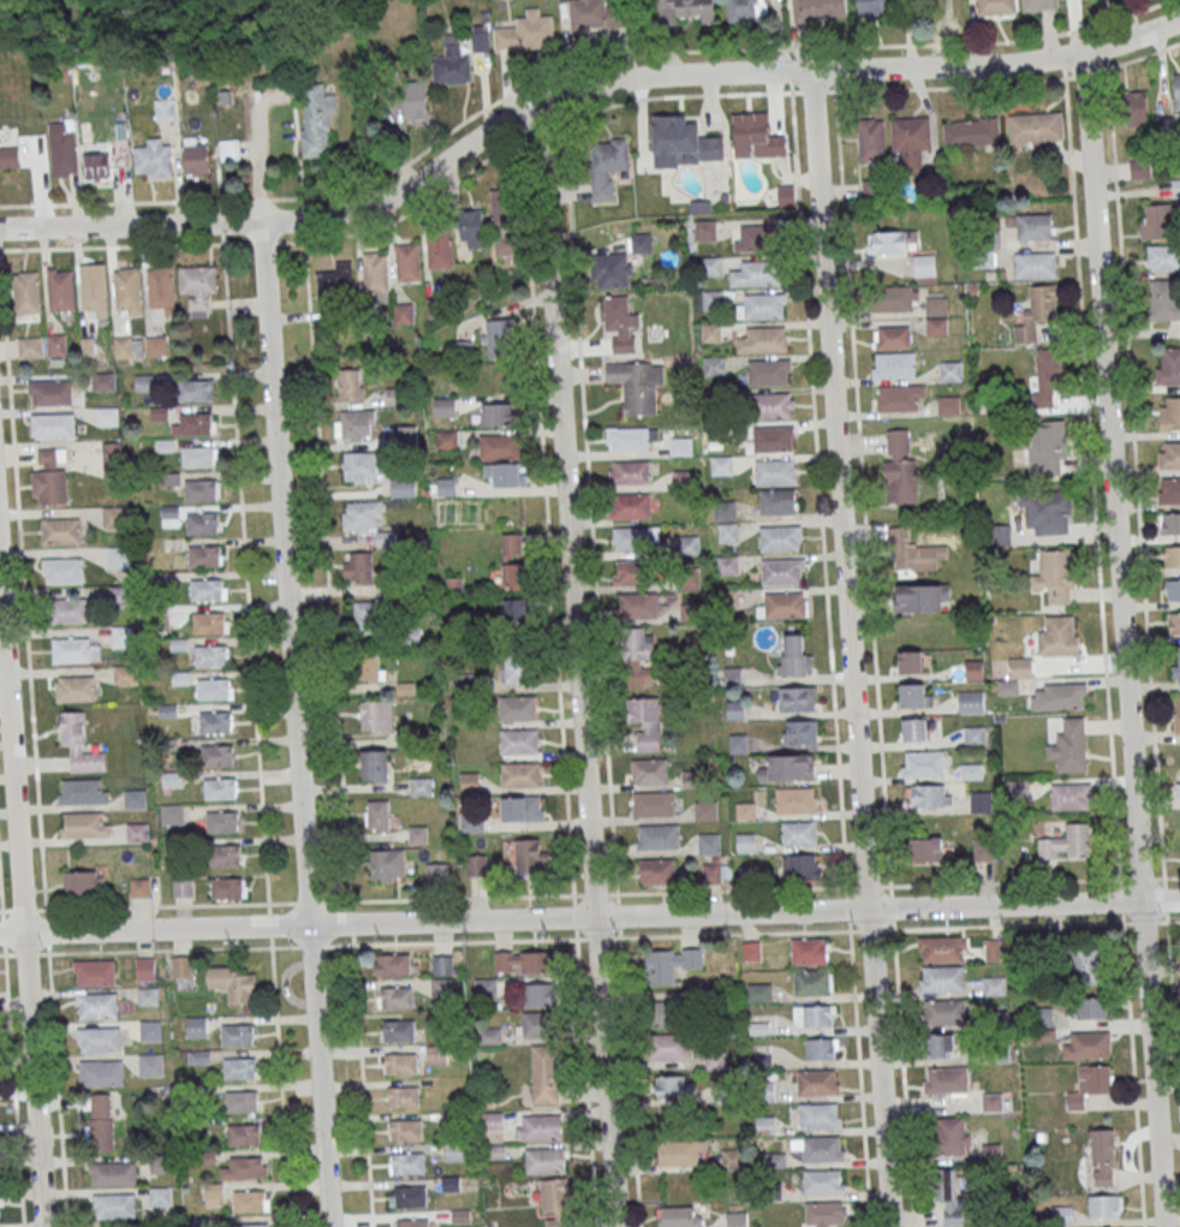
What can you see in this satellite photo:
park: (260, 4)
building: (1038, 6)
building: (874, 7)
building: (996, 7)
building: (684, 10)
building: (820, 10)
building: (747, 11)
building: (597, 14)
park: (332, 20)
building: (526, 31)
building: (481, 38)
park: (124, 43)
road: (679, 49)
building: (452, 62)
road: (949, 87)
road: (577, 91)
building: (1176, 91)
road: (636, 99)
building: (416, 102)
building: (1134, 108)
building: (166, 109)
building: (316, 119)
building: (1036, 129)
building: (971, 133)
building: (757, 139)
building: (871, 141)
building: (681, 142)
building: (910, 143)
building: (64, 147)
building: (230, 150)
building: (196, 156)
building: (154, 157)
building: (10, 159)
road: (300, 163)
building: (96, 166)
building: (607, 166)
building: (1140, 168)
building: (1175, 186)
building: (870, 189)
building: (503, 207)
road: (405, 214)
building: (1156, 220)
building: (1035, 226)
building: (472, 228)
building: (704, 230)
building: (757, 237)
building: (640, 242)
building: (889, 242)
building: (505, 245)
building: (440, 250)
building: (1163, 257)
building: (407, 261)
building: (711, 264)
building: (1035, 264)
building: (924, 266)
building: (612, 270)
building: (375, 272)
building: (757, 273)
building: (336, 280)
building: (197, 285)
building: (161, 288)
building: (60, 290)
building: (94, 290)
building: (127, 290)
building: (26, 292)
building: (713, 298)
building: (898, 298)
building: (1163, 299)
building: (764, 305)
building: (935, 305)
building: (436, 306)
building: (1037, 312)
building: (404, 314)
building: (620, 323)
building: (936, 326)
building: (710, 333)
road: (5, 334)
building: (890, 336)
building: (501, 338)
building: (763, 340)
building: (56, 344)
building: (157, 345)
building: (30, 346)
building: (124, 346)
building: (894, 364)
building: (714, 365)
building: (1169, 365)
building: (950, 370)
building: (769, 371)
building: (1044, 377)
building: (103, 381)
building: (145, 382)
building: (350, 383)
building: (637, 385)
building: (196, 389)
building: (50, 392)
building: (900, 398)
building: (947, 404)
building: (771, 405)
building: (445, 406)
building: (497, 413)
building: (1169, 413)
building: (106, 415)
building: (196, 423)
building: (53, 424)
building: (354, 425)
building: (719, 430)
building: (405, 435)
building: (630, 437)
building: (446, 439)
building: (774, 439)
building: (499, 446)
building: (681, 446)
building: (1043, 449)
building: (1169, 454)
building: (197, 455)
road: (1134, 455)
building: (111, 458)
building: (722, 465)
building: (900, 465)
building: (359, 466)
building: (630, 471)
building: (775, 472)
building: (506, 473)
building: (50, 477)
road: (1092, 477)
building: (685, 478)
building: (403, 487)
building: (446, 487)
road: (818, 488)
building: (199, 489)
building: (1169, 490)
building: (777, 501)
building: (631, 505)
building: (725, 510)
road: (864, 511)
building: (1045, 512)
building: (171, 516)
building: (362, 516)
building: (113, 517)
building: (203, 523)
building: (1169, 523)
building: (61, 531)
road: (591, 531)
building: (728, 531)
building: (999, 535)
building: (636, 537)
building: (780, 538)
building: (912, 552)
road: (326, 553)
building: (118, 555)
building: (204, 555)
building: (1172, 556)
building: (513, 560)
building: (358, 567)
building: (62, 570)
building: (782, 571)
building: (630, 572)
road: (245, 573)
building: (1055, 578)
building: (207, 589)
building: (1173, 589)
building: (119, 595)
building: (923, 597)
building: (783, 604)
building: (633, 606)
building: (68, 609)
building: (515, 609)
building: (365, 617)
building: (208, 621)
building: (1174, 623)
building: (121, 636)
building: (1059, 638)
road: (1122, 641)
building: (178, 644)
road: (850, 648)
building: (75, 649)
building: (210, 655)
building: (638, 655)
building: (794, 656)
road: (291, 662)
building: (907, 662)
building: (1176, 665)
building: (370, 666)
road: (577, 666)
building: (514, 667)
building: (1020, 668)
building: (973, 669)
building: (124, 674)
building: (179, 678)
road: (558, 685)
building: (75, 689)
building: (214, 689)
building: (914, 695)
building: (1059, 696)
building: (797, 698)
building: (970, 701)
building: (518, 707)
building: (167, 710)
building: (1178, 714)
building: (376, 716)
building: (215, 721)
building: (646, 722)
building: (913, 729)
building: (799, 732)
building: (975, 735)
building: (519, 740)
building: (78, 743)
building: (168, 744)
building: (1069, 745)
building: (217, 755)
building: (923, 763)
building: (375, 766)
building: (788, 768)
building: (649, 770)
building: (972, 770)
building: (520, 774)
building: (172, 778)
building: (1178, 785)
building: (421, 786)
building: (219, 787)
building: (1019, 790)
building: (83, 792)
building: (930, 796)
building: (135, 798)
building: (1071, 798)
building: (797, 800)
building: (981, 800)
building: (652, 804)
building: (522, 809)
building: (707, 810)
building: (172, 814)
building: (377, 815)
building: (222, 822)
building: (472, 822)
building: (84, 826)
building: (136, 832)
building: (799, 833)
building: (417, 835)
building: (658, 836)
building: (709, 842)
building: (746, 842)
building: (1067, 844)
building: (926, 848)
building: (983, 850)
building: (225, 854)
building: (531, 856)
building: (387, 865)
building: (476, 865)
building: (800, 866)
building: (436, 871)
building: (657, 871)
building: (716, 872)
road: (1035, 881)
building: (83, 883)
building: (139, 887)
building: (183, 887)
building: (227, 888)
road: (579, 894)
road: (0, 900)
road: (268, 903)
road: (0, 910)
road: (22, 911)
road: (590, 918)
road: (1037, 925)
road: (568, 939)
building: (943, 948)
building: (752, 951)
building: (809, 951)
road: (2, 954)
building: (522, 961)
building: (393, 964)
building: (669, 964)
building: (442, 965)
building: (181, 966)
building: (1089, 967)
building: (145, 969)
building: (94, 972)
building: (941, 978)
building: (812, 982)
building: (233, 983)
building: (995, 984)
building: (442, 987)
building: (485, 987)
building: (541, 994)
building: (149, 995)
building: (397, 997)
building: (96, 1005)
building: (1092, 1007)
building: (943, 1012)
building: (669, 1013)
road: (1173, 1014)
building: (815, 1015)
building: (1042, 1017)
building: (535, 1024)
building: (197, 1026)
building: (150, 1029)
building: (398, 1030)
building: (238, 1035)
building: (490, 1035)
building: (100, 1038)
building: (941, 1046)
building: (1087, 1046)
building: (669, 1047)
building: (820, 1048)
building: (437, 1054)
building: (198, 1056)
road: (902, 1056)
building: (150, 1064)
building: (400, 1064)
road: (56, 1067)
building: (240, 1068)
building: (101, 1072)
building: (544, 1073)
road: (1133, 1074)
building: (944, 1080)
road: (630, 1082)
building: (818, 1082)
road: (363, 1085)
building: (1090, 1085)
building: (675, 1086)
road: (13, 1090)
building: (403, 1096)
building: (242, 1101)
building: (991, 1102)
building: (820, 1115)
building: (101, 1121)
building: (538, 1127)
building: (404, 1130)
building: (244, 1133)
building: (952, 1136)
building: (820, 1148)
building: (680, 1152)
building: (1103, 1156)
building: (731, 1158)
building: (544, 1160)
building: (775, 1160)
building: (161, 1163)
building: (406, 1163)
building: (246, 1166)
building: (112, 1173)
building: (824, 1181)
building: (214, 1193)
building: (160, 1196)
building: (409, 1196)
building: (250, 1201)
building: (955, 1201)
building: (555, 1202)
building: (114, 1205)
building: (1104, 1205)
building: (0, 1209)
building: (826, 1214)
building: (1061, 1215)
building: (679, 1216)
building: (737, 1219)
building: (412, 1223)
building: (252, 1225)

